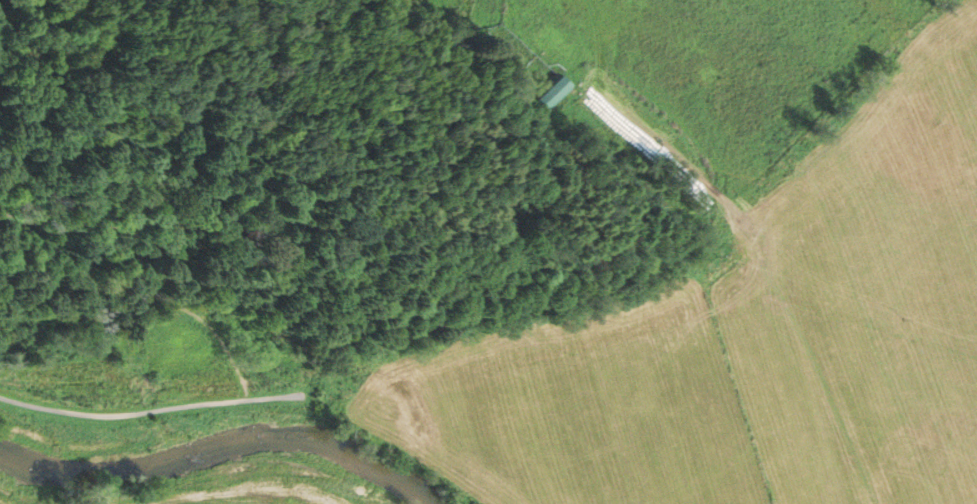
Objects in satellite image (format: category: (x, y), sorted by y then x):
road: (73, 57)
building: (551, 92)
road: (153, 243)
park: (141, 260)
road: (765, 273)
road: (209, 316)
road: (150, 412)
river: (216, 446)

